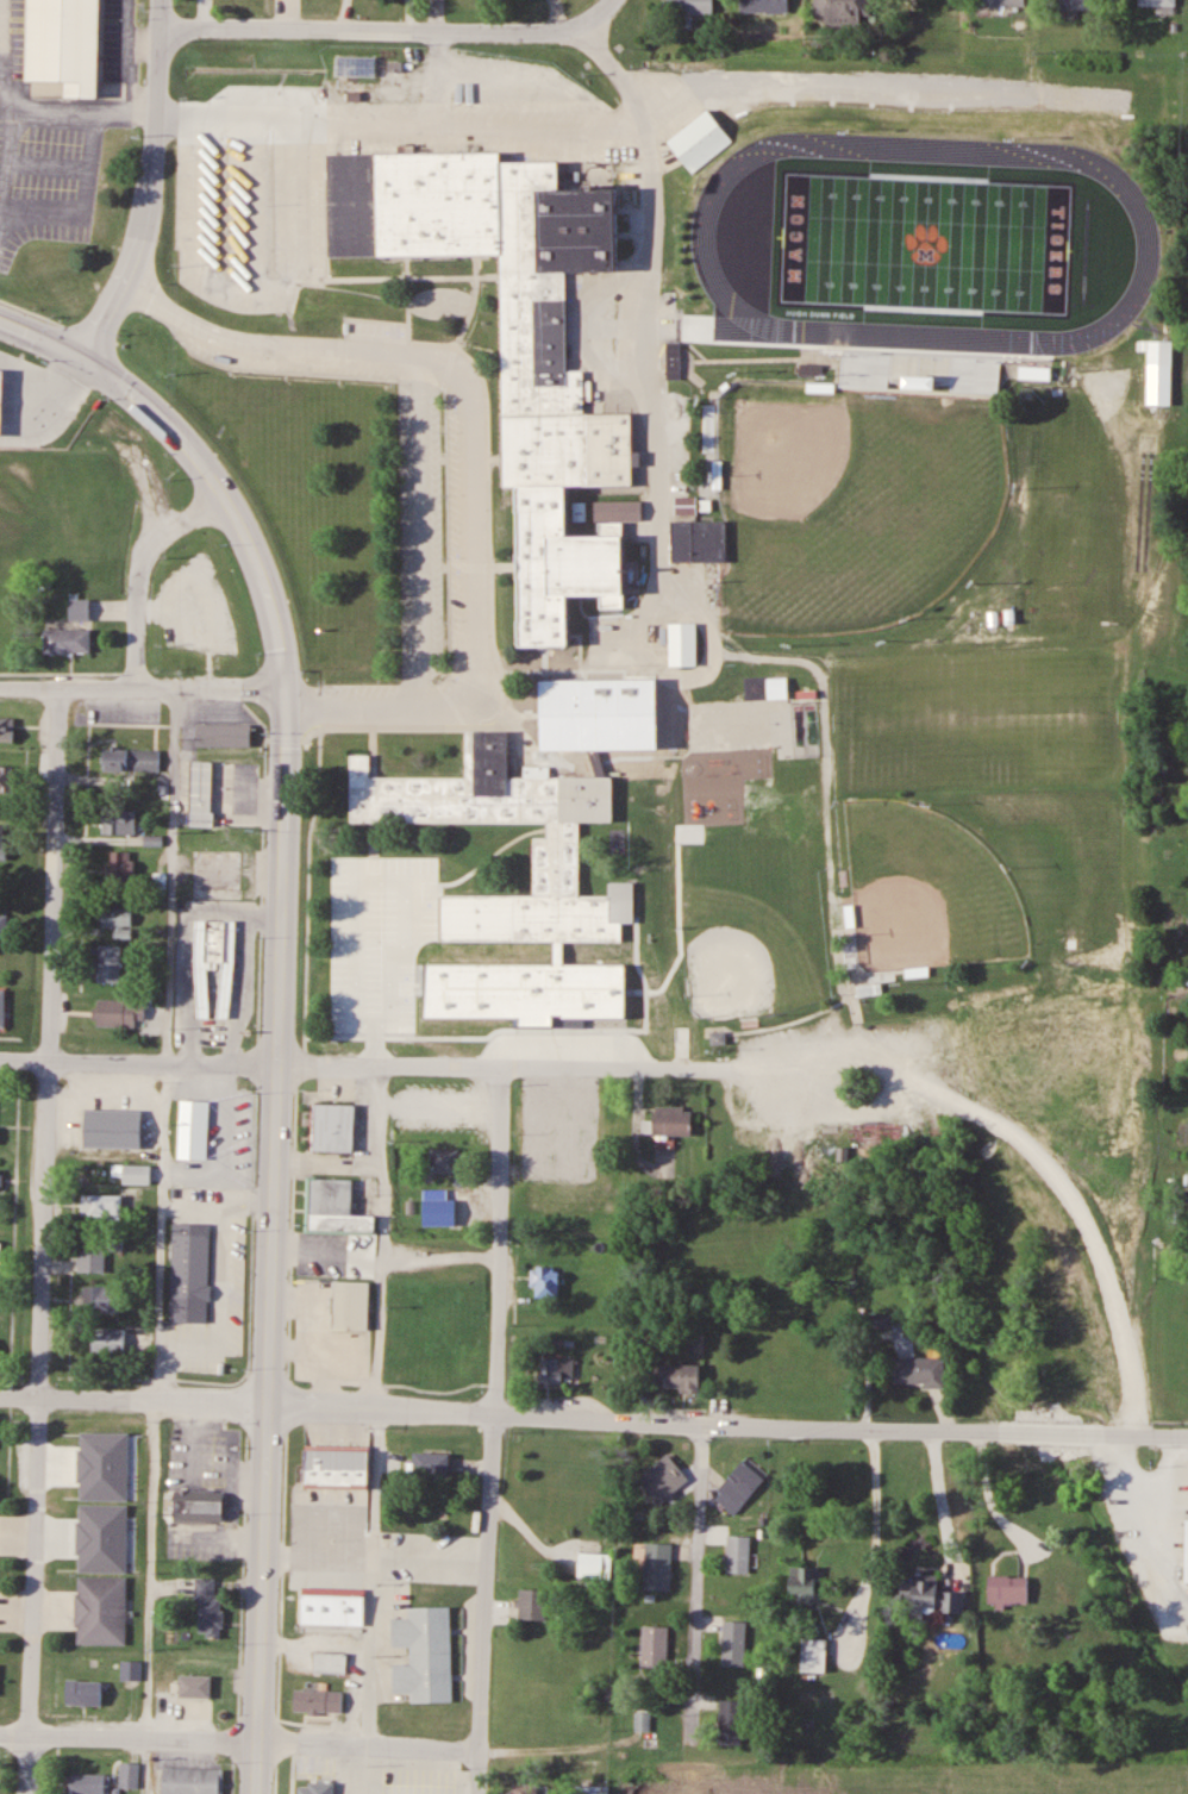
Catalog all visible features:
building: (763, 0)
building: (1000, 2)
building: (1157, 2)
building: (1080, 4)
building: (689, 7)
building: (842, 11)
road: (388, 27)
building: (68, 43)
road: (77, 115)
building: (700, 139)
road: (152, 183)
park: (927, 248)
building: (514, 338)
building: (1161, 351)
traffic signals: (92, 357)
building: (674, 360)
building: (1034, 374)
building: (6, 388)
road: (654, 423)
road: (470, 457)
park: (850, 498)
building: (687, 505)
building: (581, 511)
building: (620, 511)
building: (701, 540)
building: (80, 607)
building: (67, 639)
building: (683, 643)
traffic signals: (283, 688)
road: (142, 690)
building: (609, 720)
building: (7, 729)
building: (224, 735)
building: (132, 758)
building: (8, 777)
building: (202, 793)
building: (119, 821)
building: (2, 840)
building: (154, 840)
building: (123, 869)
building: (218, 869)
park: (920, 888)
building: (4, 919)
building: (118, 921)
building: (110, 963)
building: (214, 969)
building: (512, 986)
building: (870, 989)
road: (277, 992)
building: (2, 1007)
building: (120, 1013)
road: (405, 1068)
building: (112, 1109)
building: (445, 1111)
building: (673, 1120)
building: (559, 1121)
building: (333, 1126)
building: (115, 1130)
building: (196, 1130)
building: (446, 1159)
building: (1, 1181)
building: (131, 1190)
building: (333, 1205)
building: (456, 1209)
road: (43, 1243)
building: (0, 1251)
building: (96, 1252)
building: (189, 1270)
building: (548, 1281)
building: (101, 1299)
building: (351, 1304)
building: (108, 1340)
building: (555, 1368)
building: (919, 1370)
building: (680, 1377)
road: (593, 1420)
road: (493, 1431)
building: (432, 1464)
building: (336, 1465)
building: (663, 1477)
building: (738, 1487)
building: (87, 1496)
building: (198, 1506)
building: (1187, 1551)
building: (738, 1554)
building: (589, 1559)
building: (658, 1565)
road: (698, 1570)
building: (804, 1586)
building: (1008, 1592)
building: (930, 1598)
building: (533, 1605)
building: (208, 1608)
building: (101, 1609)
building: (734, 1644)
building: (655, 1648)
building: (813, 1655)
building: (330, 1663)
building: (131, 1670)
building: (0, 1671)
building: (195, 1687)
building: (85, 1693)
building: (318, 1701)
building: (424, 1702)
building: (642, 1720)
building: (731, 1721)
road: (298, 1745)
building: (130, 1775)
building: (193, 1780)
building: (89, 1783)
building: (306, 1784)
building: (525, 1788)
building: (595, 1789)

